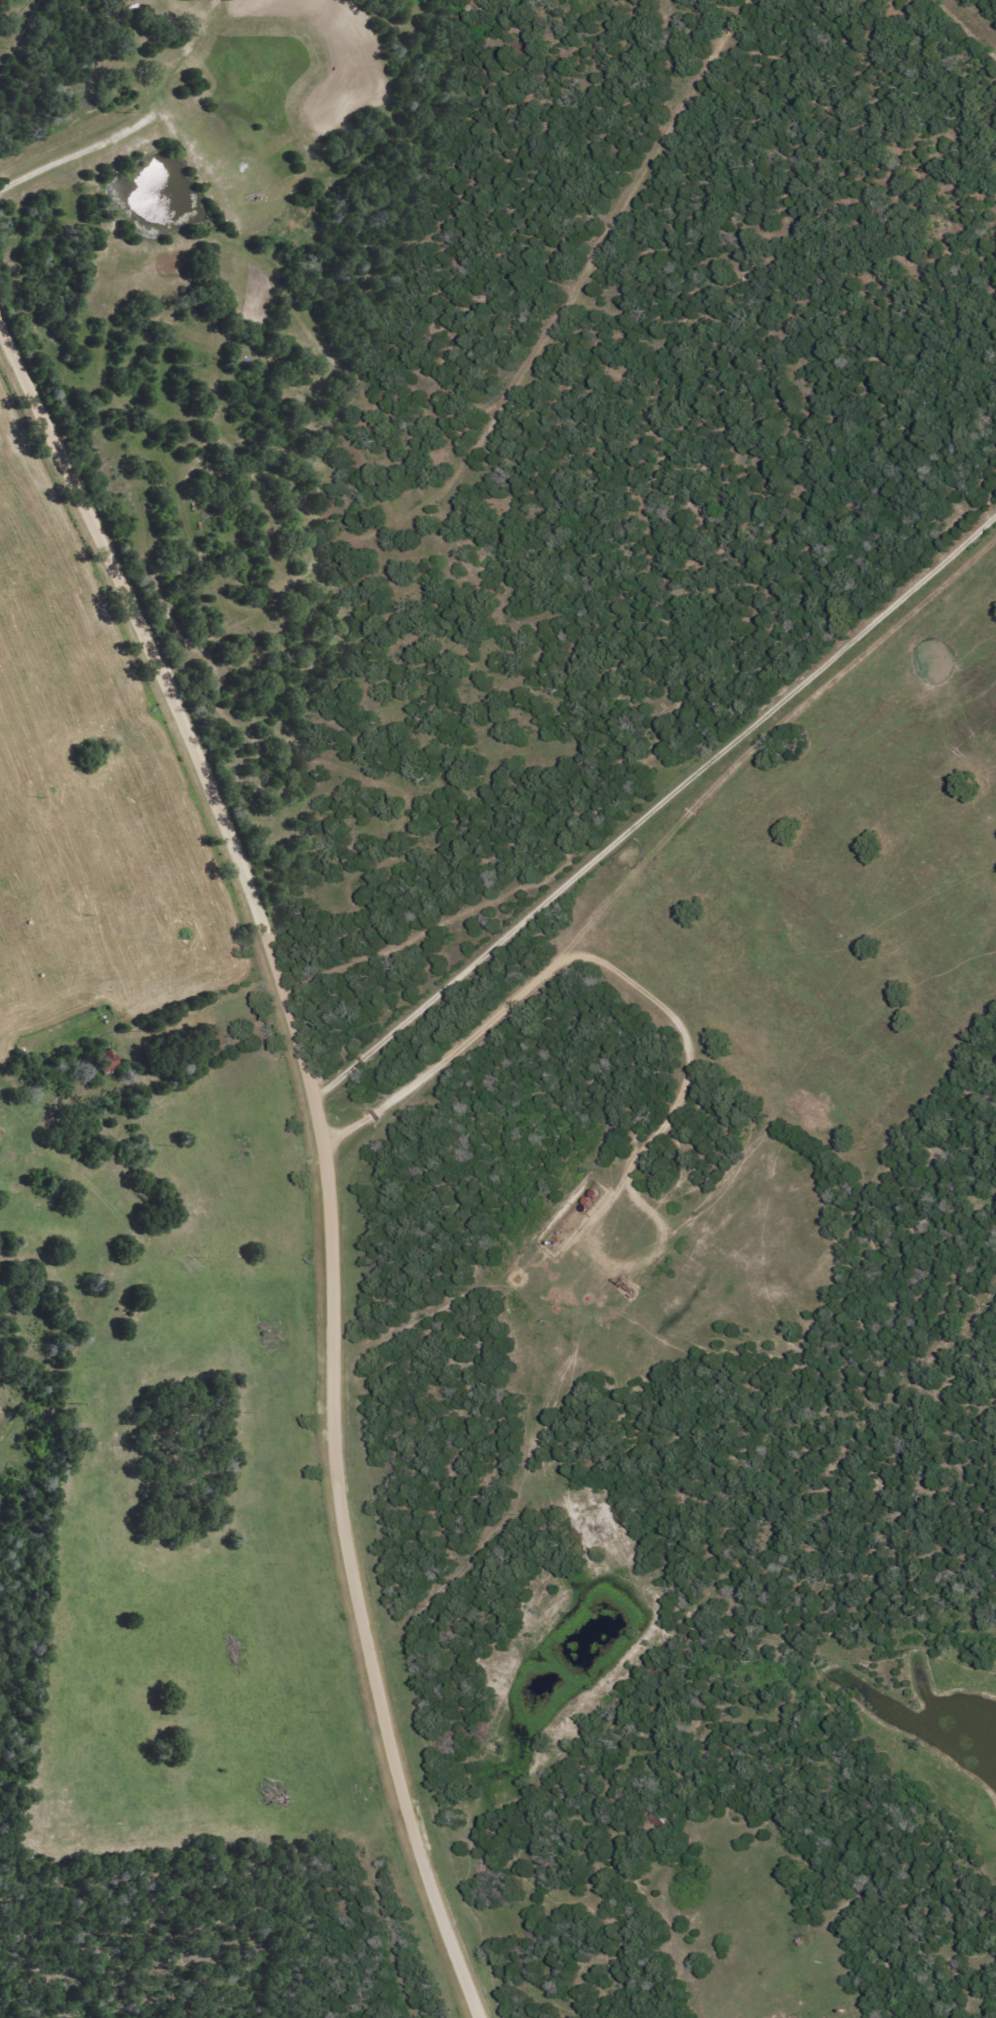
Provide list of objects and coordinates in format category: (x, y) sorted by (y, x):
road: (947, 656)
road: (656, 804)
road: (18, 1106)
road: (320, 1151)
road: (784, 1629)

